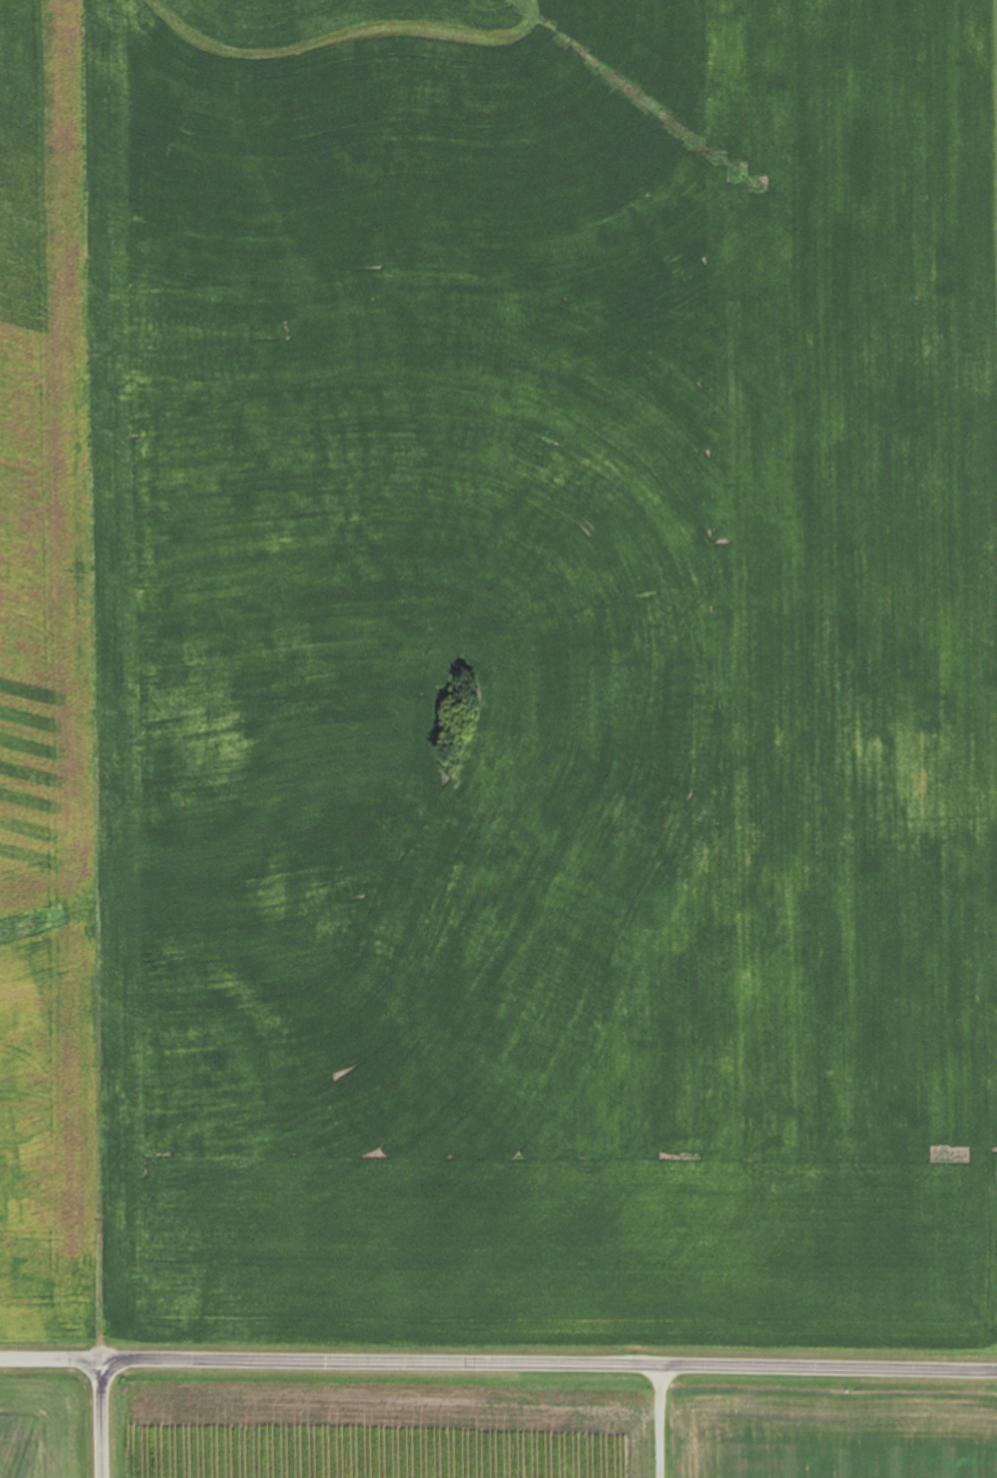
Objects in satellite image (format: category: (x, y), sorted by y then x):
road: (498, 1368)
road: (111, 1422)
road: (661, 1424)

